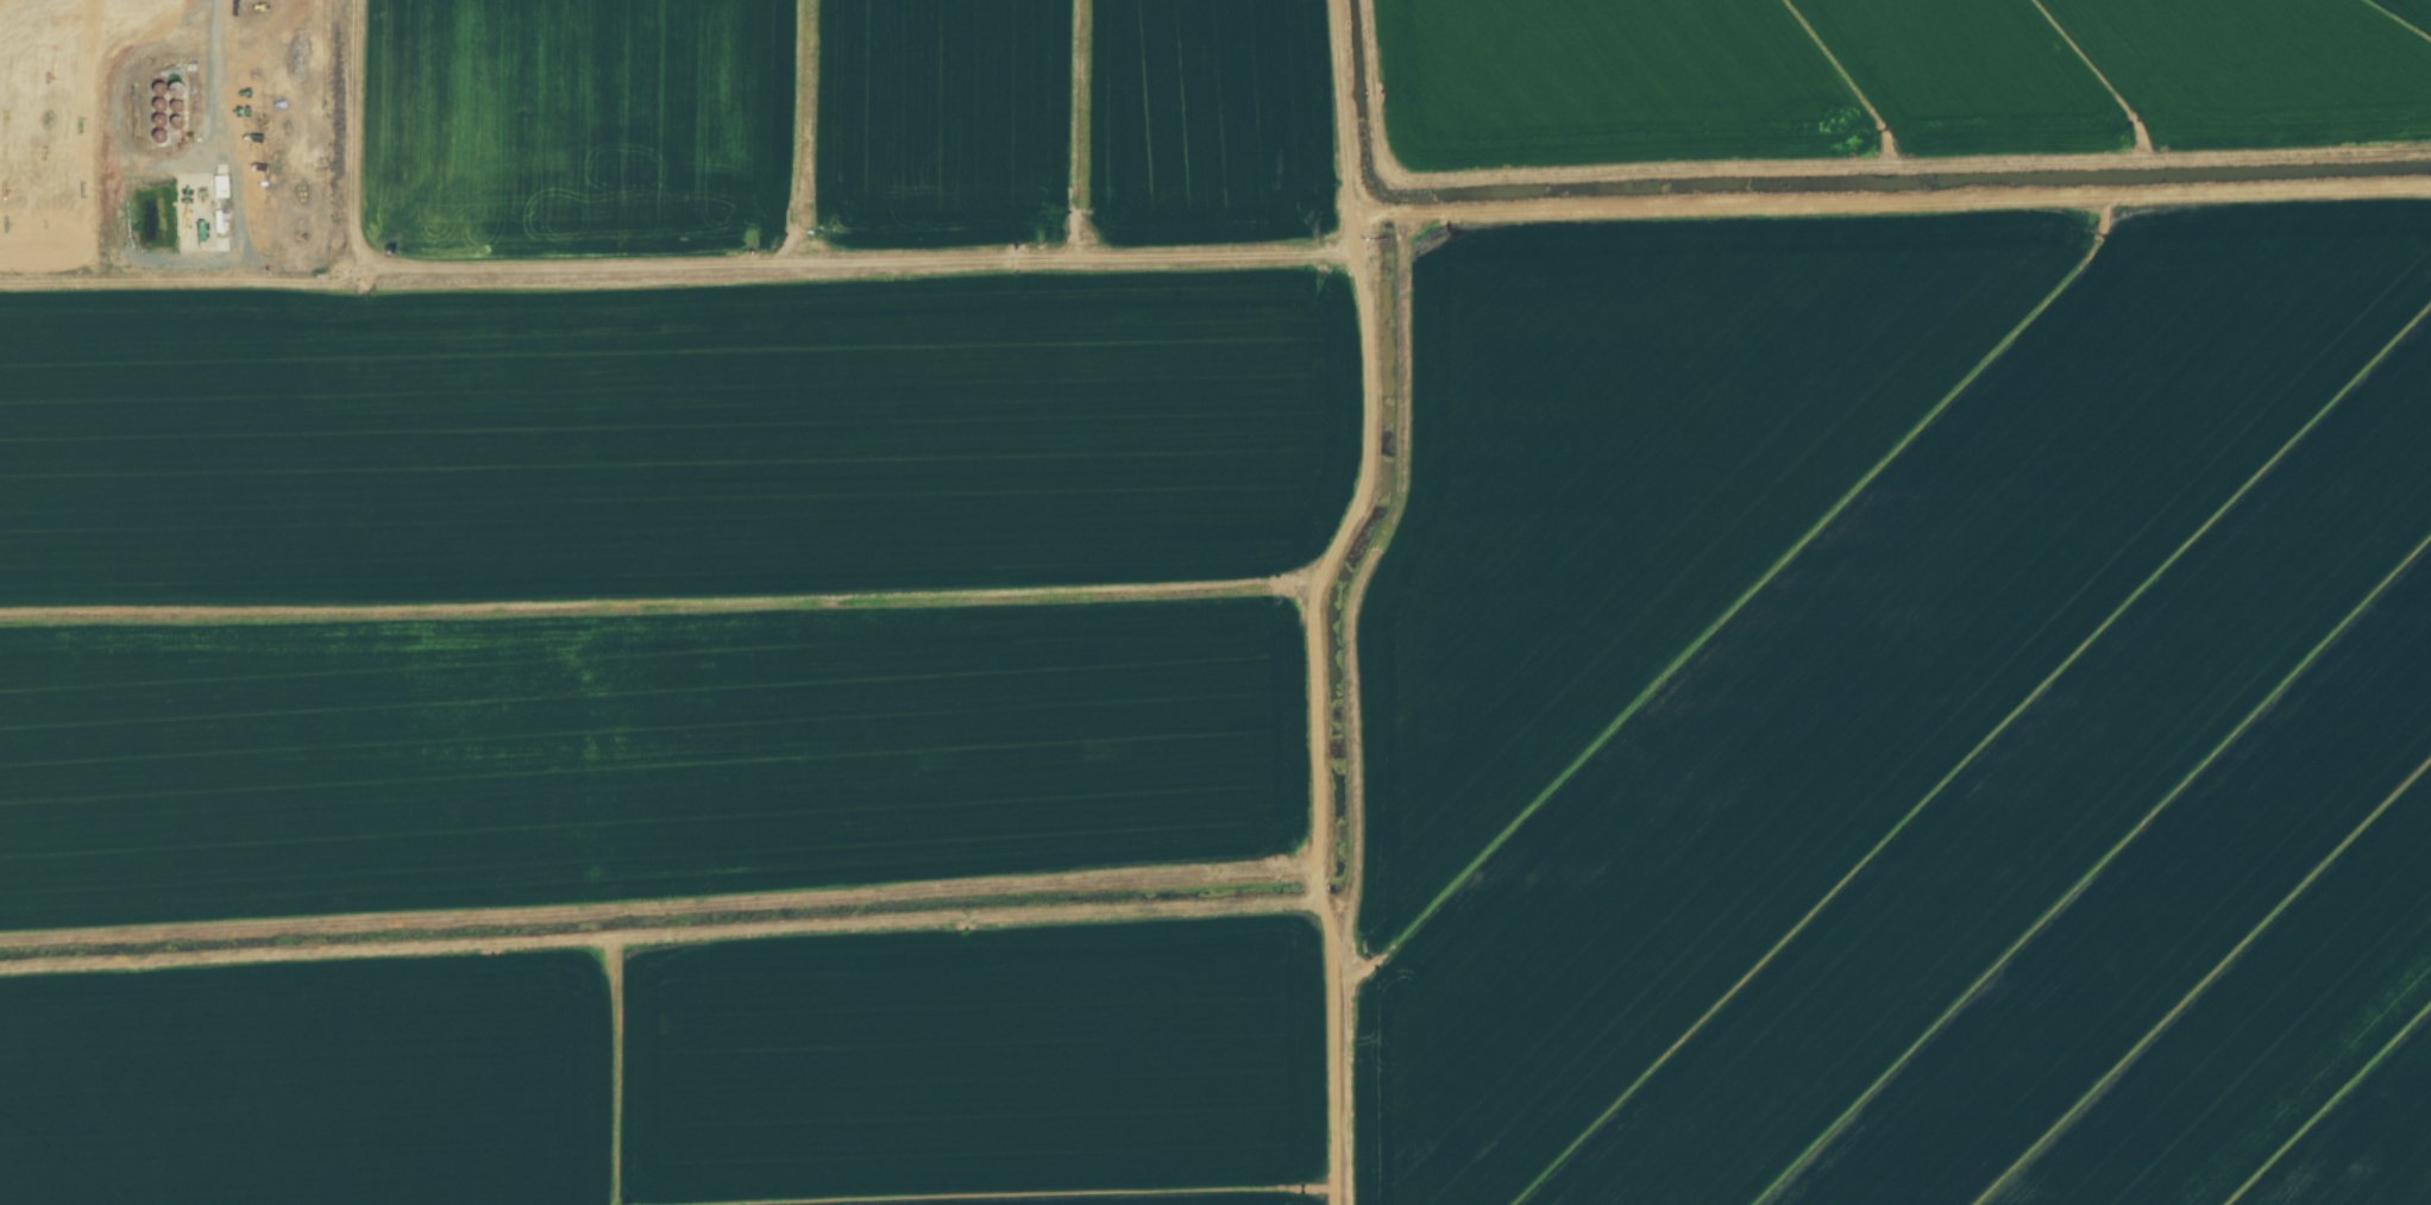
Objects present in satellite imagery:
road: (147, 158)
road: (1893, 202)

